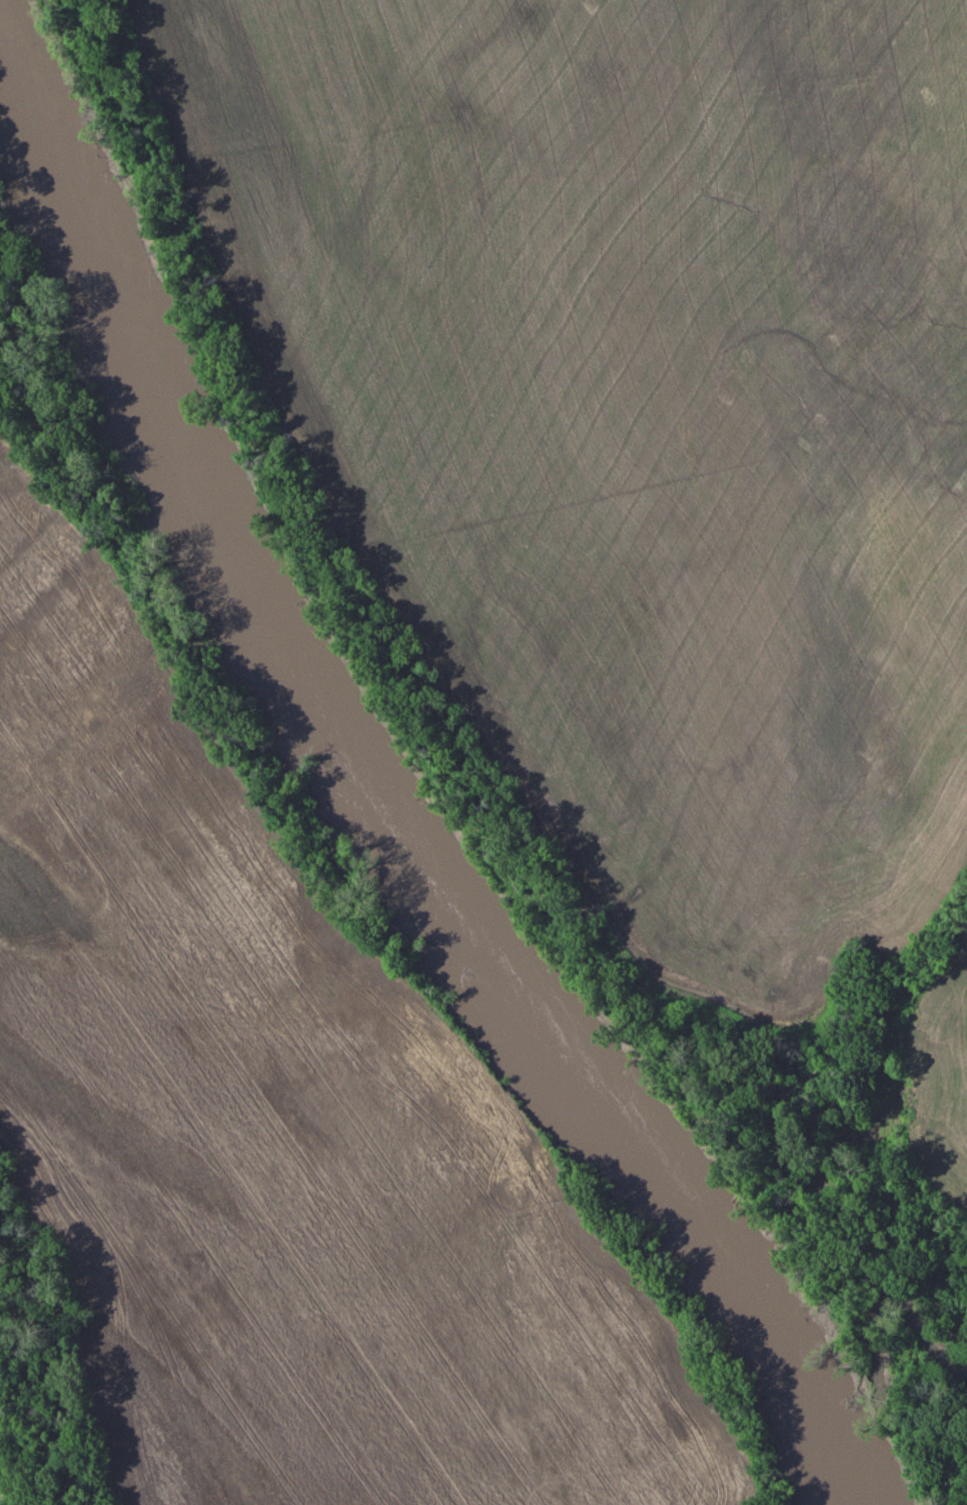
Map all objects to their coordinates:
river: (380, 809)

